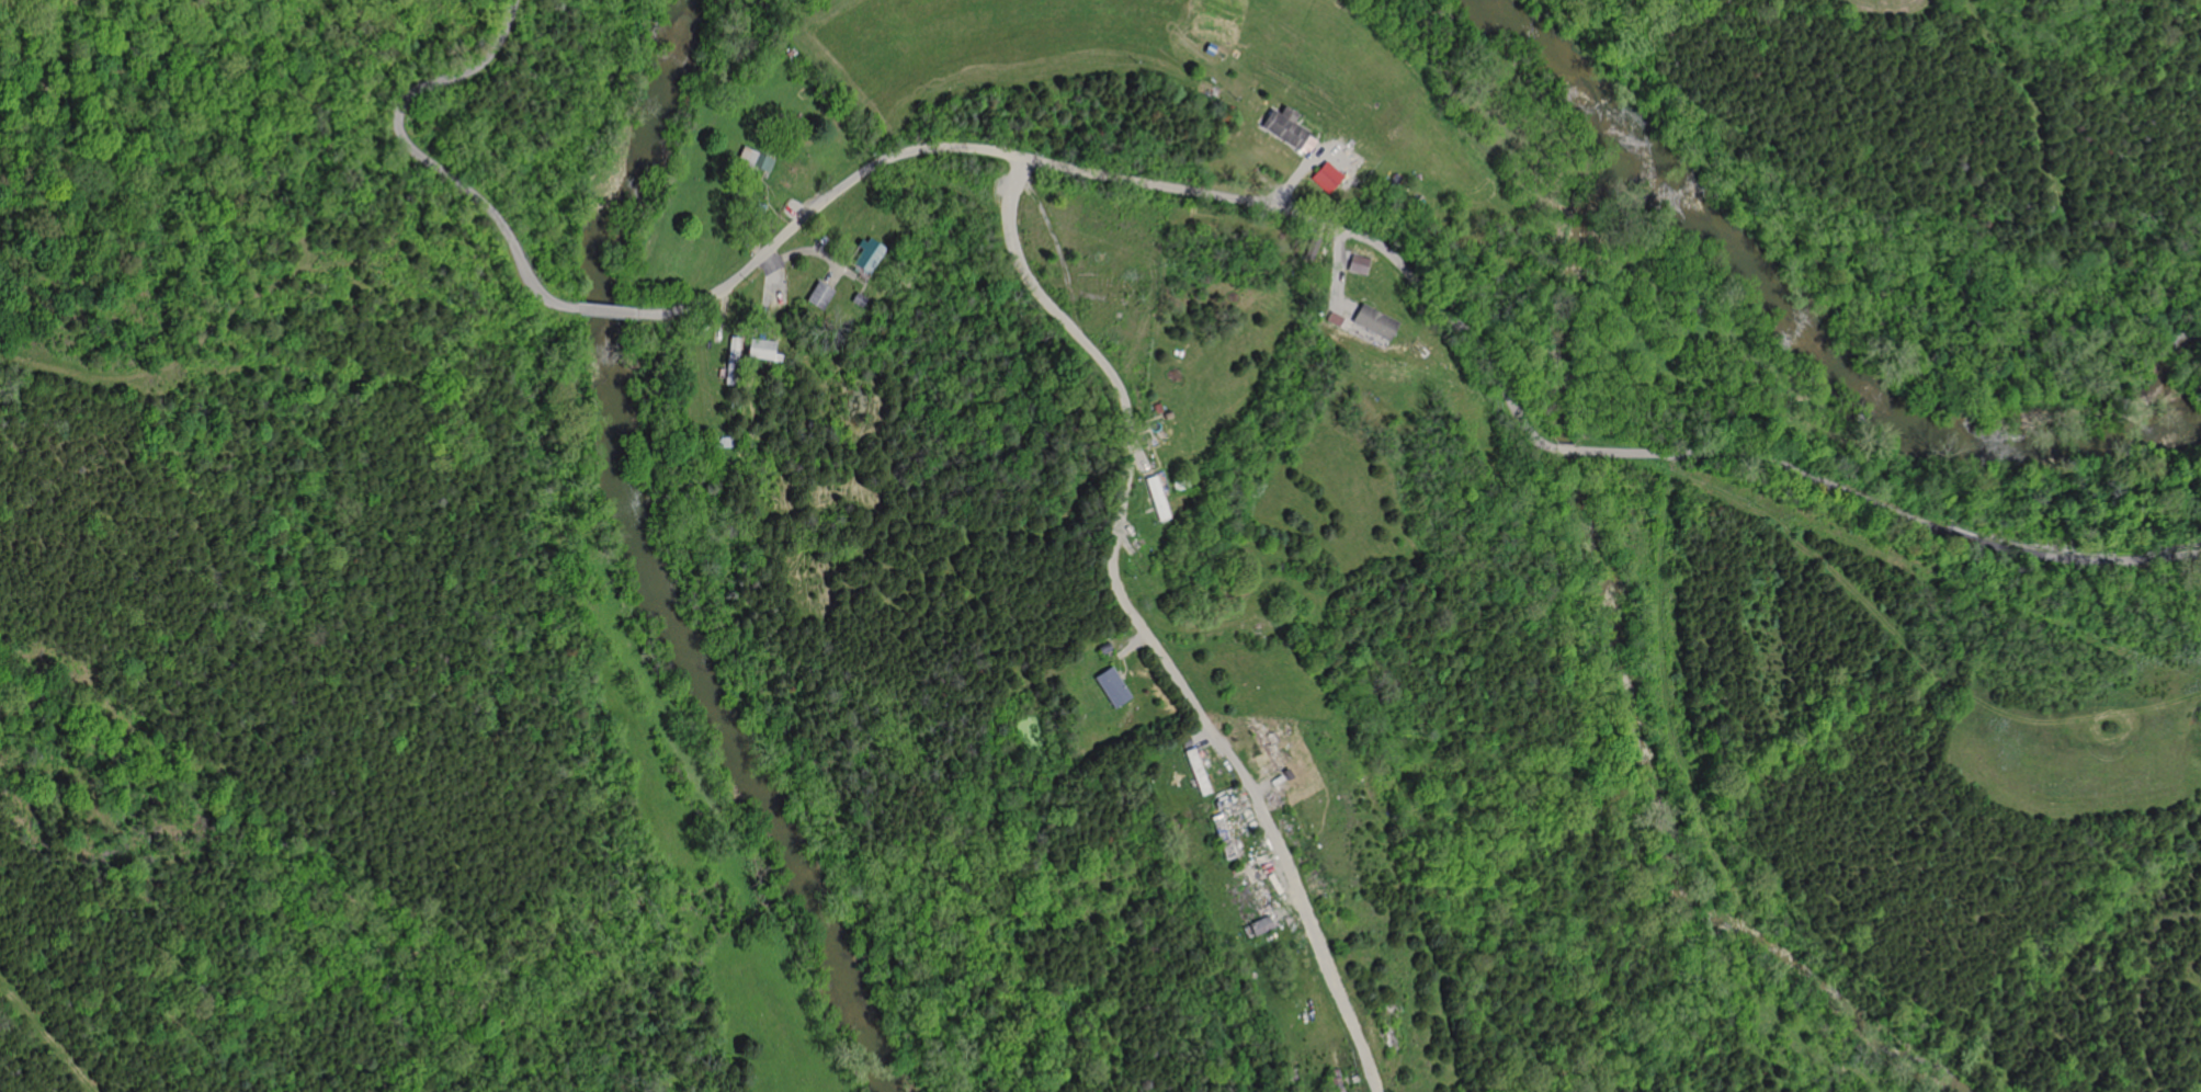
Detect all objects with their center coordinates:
building: (1227, 112)
building: (1291, 129)
road: (422, 157)
building: (757, 160)
road: (1304, 164)
road: (1117, 178)
building: (1329, 178)
road: (768, 201)
building: (761, 209)
road: (795, 212)
road: (1056, 248)
building: (1313, 248)
road: (813, 251)
building: (871, 253)
road: (1350, 261)
road: (833, 275)
road: (1336, 276)
road: (770, 293)
building: (821, 294)
road: (1085, 297)
building: (861, 298)
road: (1362, 298)
road: (722, 311)
road: (608, 312)
building: (1374, 321)
building: (764, 349)
building: (734, 360)
building: (1156, 408)
building: (1168, 413)
road: (1164, 436)
building: (726, 441)
road: (1155, 444)
road: (1562, 448)
road: (1137, 455)
road: (1154, 457)
road: (1143, 480)
building: (1181, 484)
building: (1157, 497)
road: (1887, 509)
road: (1136, 513)
road: (1121, 527)
road: (1122, 539)
road: (1141, 627)
road: (1132, 645)
building: (1105, 647)
road: (1124, 666)
building: (1114, 686)
building: (1264, 740)
building: (1199, 770)
building: (1287, 772)
building: (1225, 835)
building: (1263, 925)
road: (47, 1035)
building: (1337, 1080)

